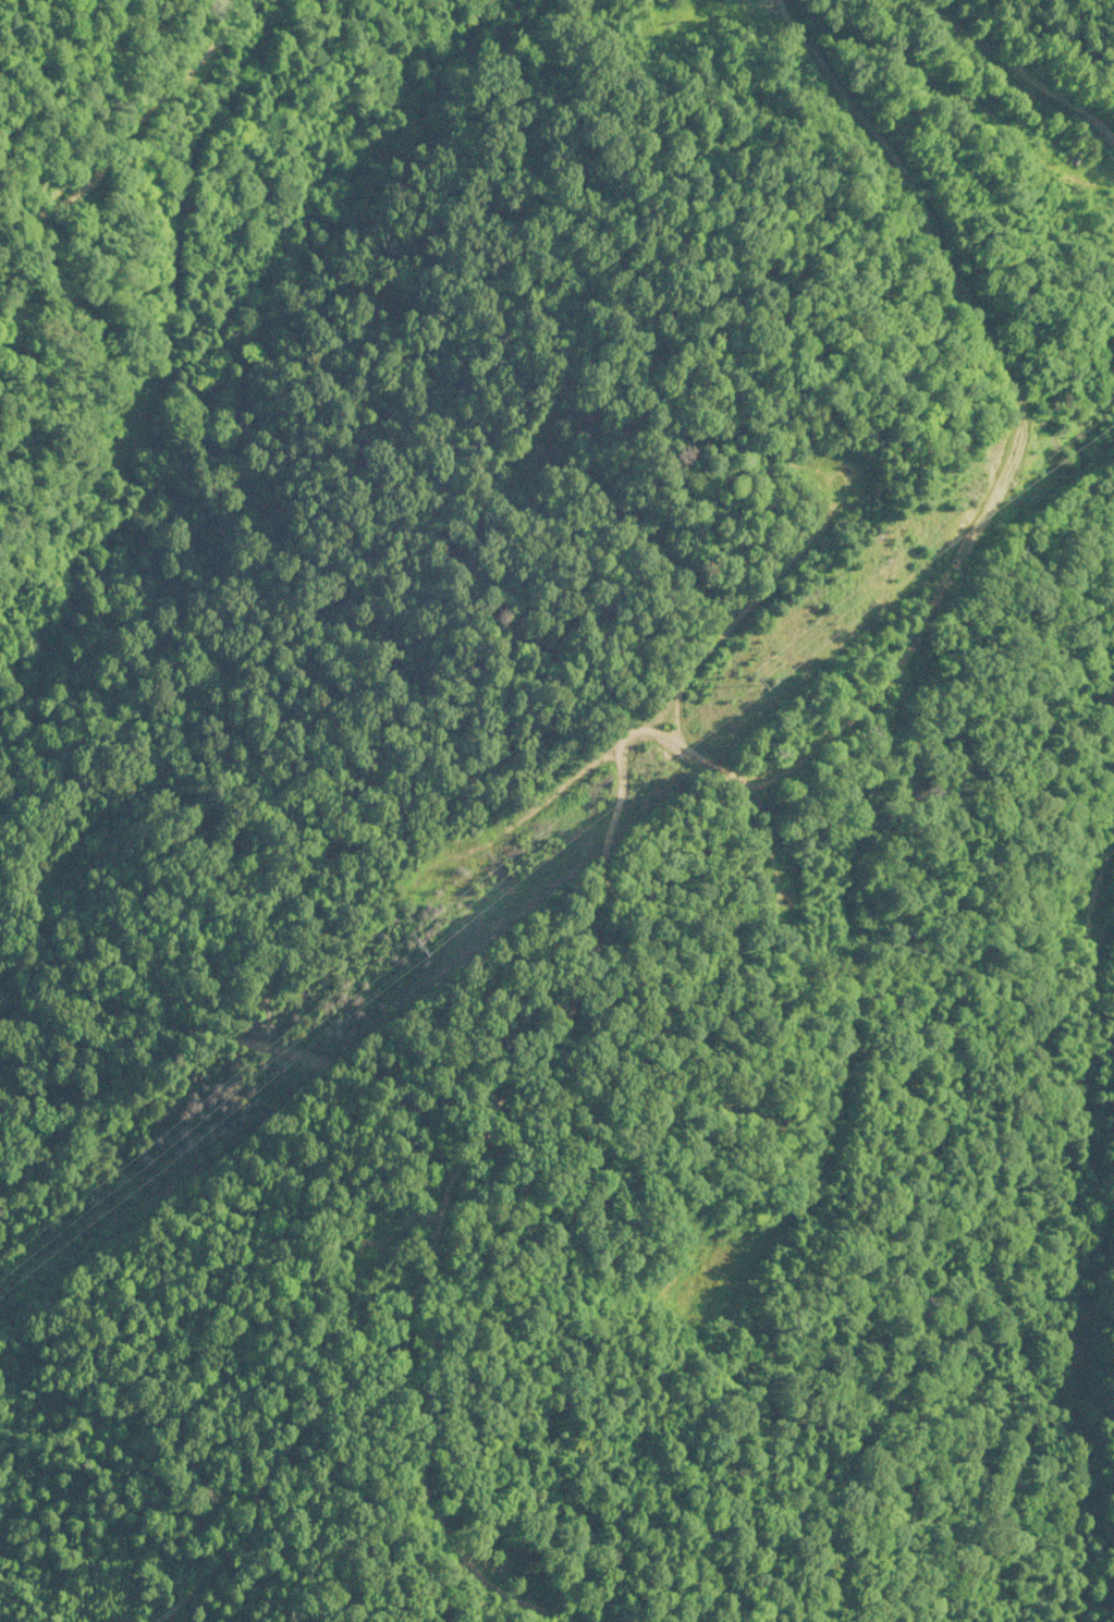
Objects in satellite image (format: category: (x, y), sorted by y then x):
road: (108, 111)
power tower: (749, 675)
power tower: (408, 942)

